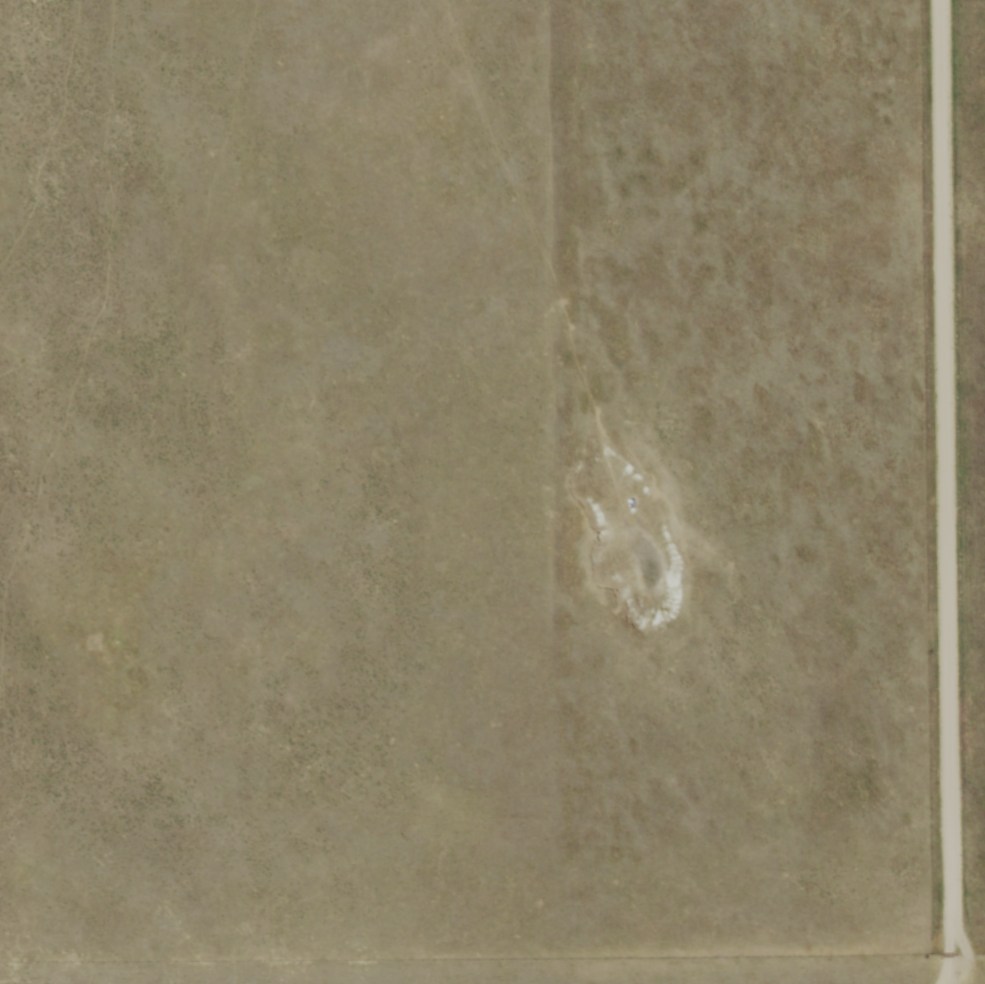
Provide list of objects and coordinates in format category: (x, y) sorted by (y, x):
road: (943, 478)
road: (953, 970)

